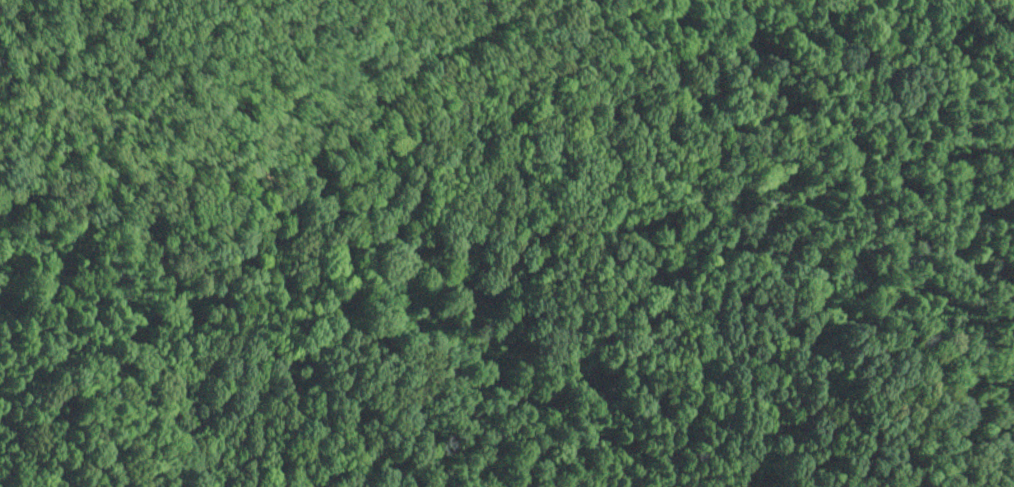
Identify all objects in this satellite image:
road: (277, 168)

